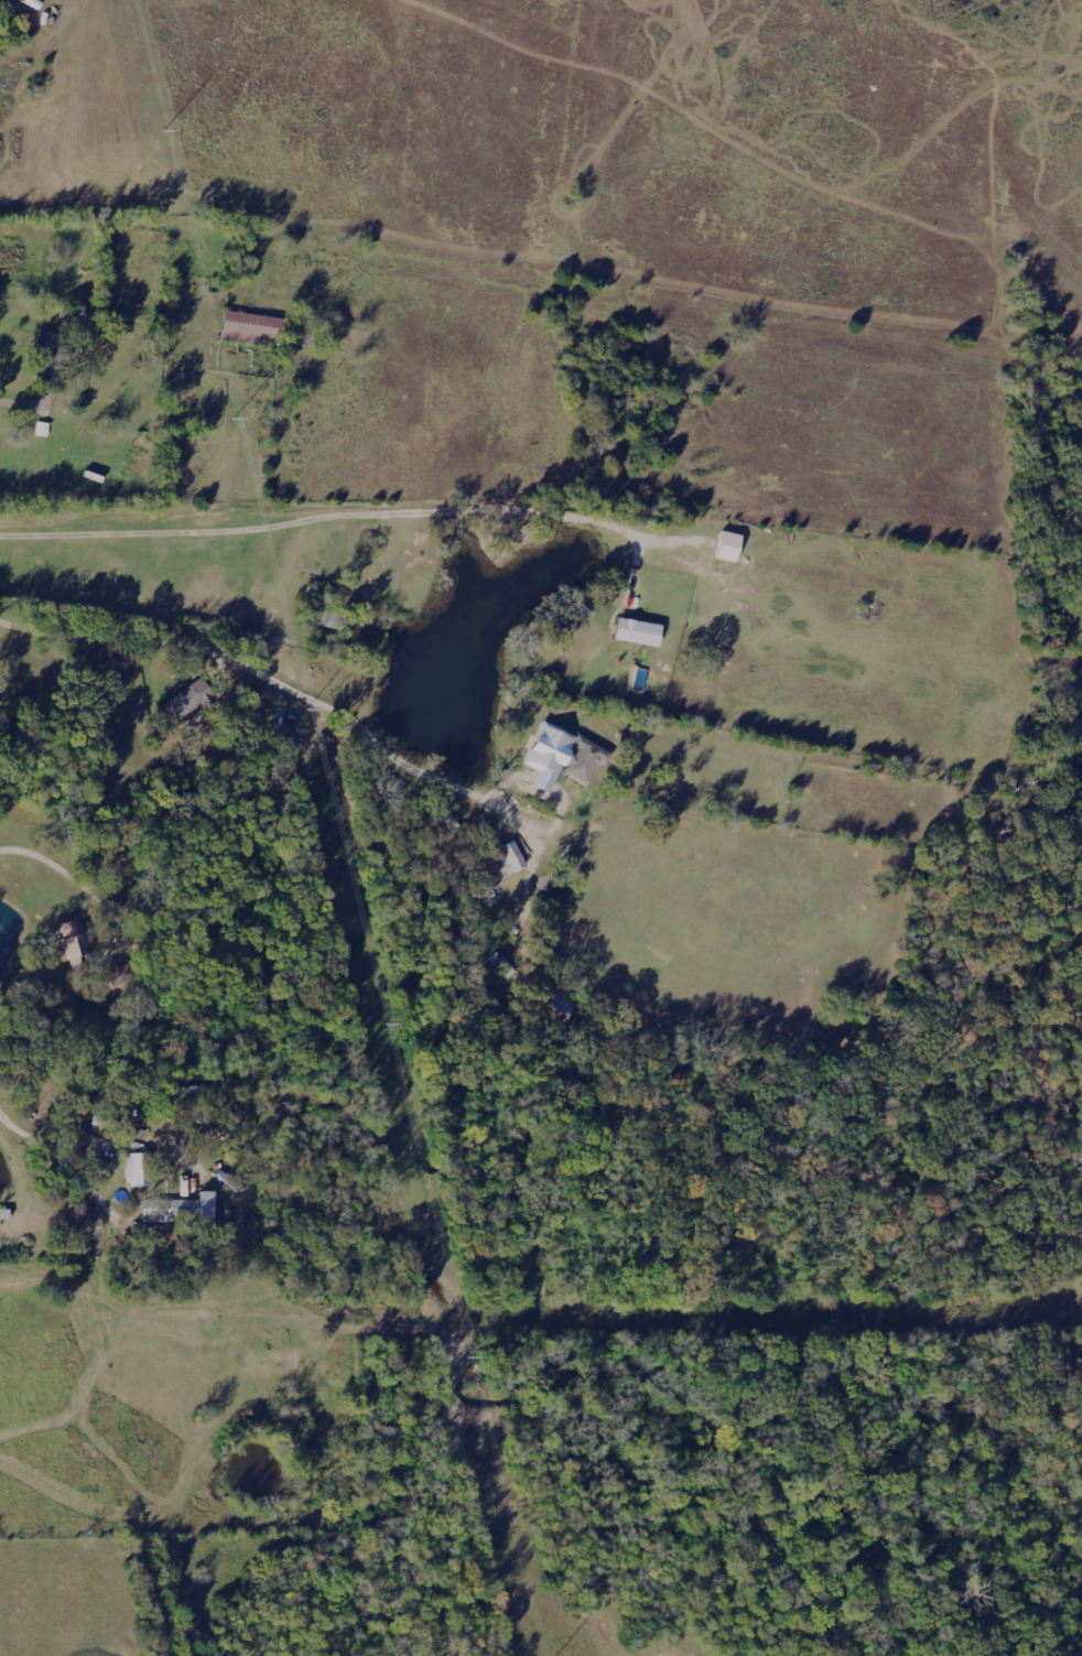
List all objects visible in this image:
building: (51, 351)
road: (29, 396)
building: (39, 431)
road: (324, 517)
building: (317, 619)
building: (640, 632)
road: (280, 671)
building: (190, 702)
building: (578, 760)
building: (502, 862)
road: (57, 867)
building: (69, 942)
building: (502, 965)
road: (63, 1154)
building: (139, 1170)
building: (172, 1213)
building: (1, 1216)

